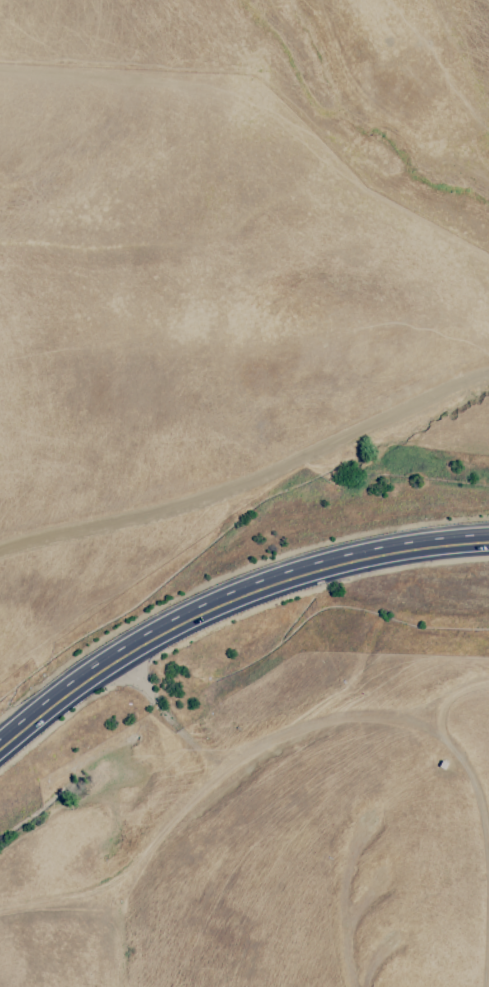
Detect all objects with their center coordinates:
road: (250, 481)
road: (227, 601)
road: (278, 740)
wastewater plant: (112, 801)
road: (127, 874)

